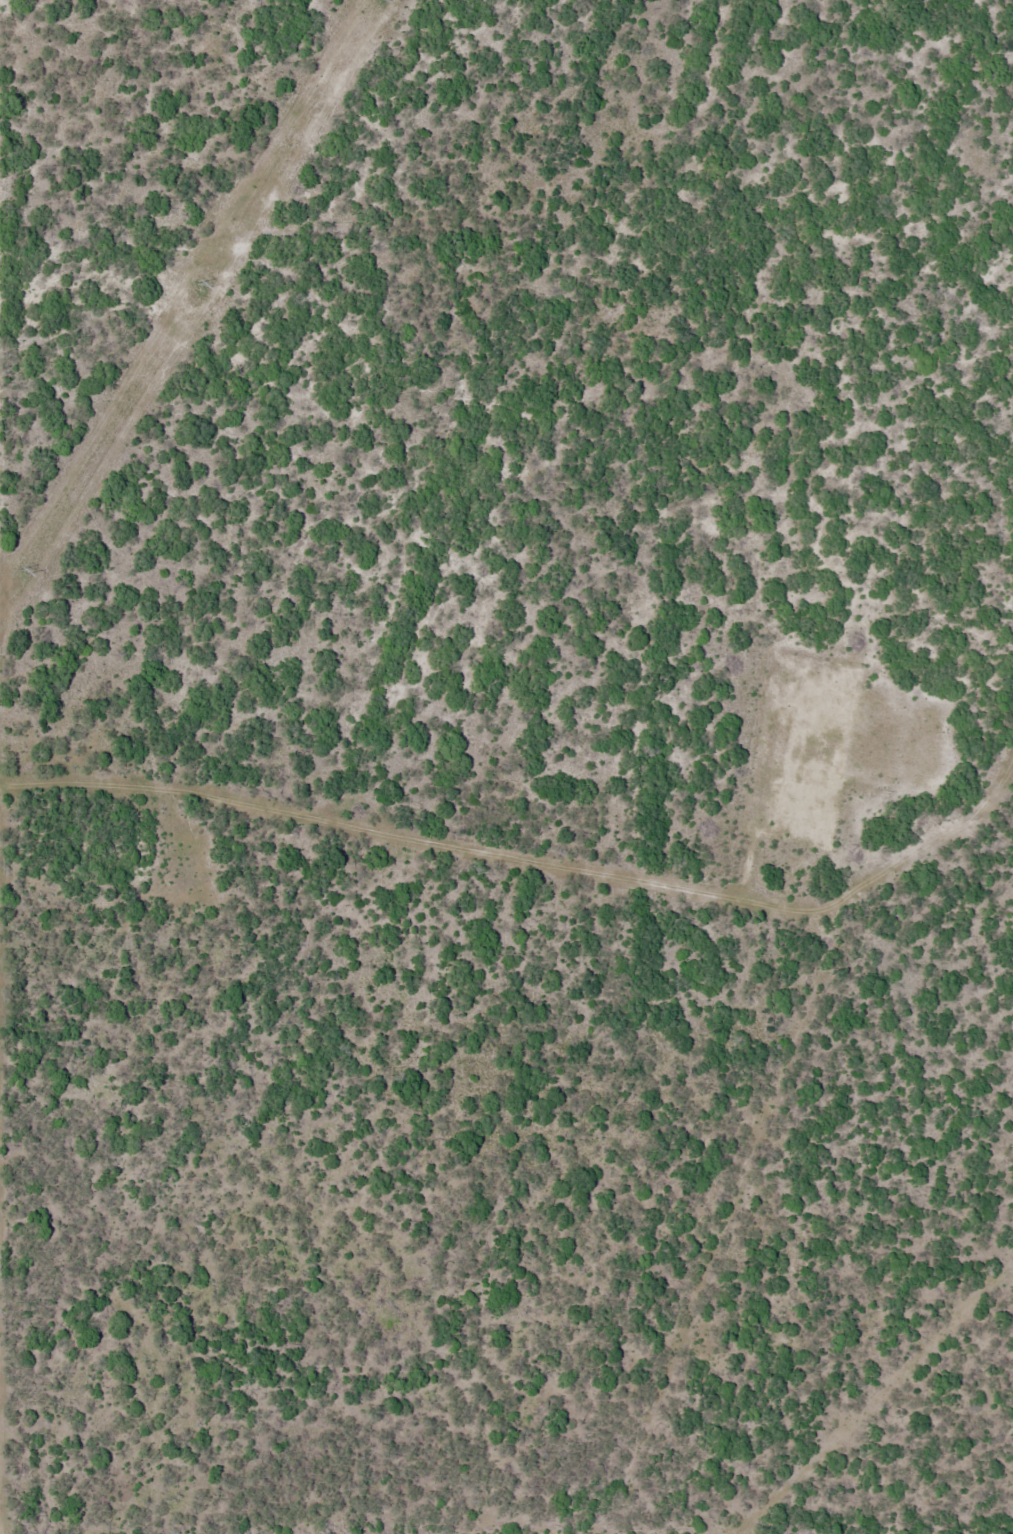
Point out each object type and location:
road: (244, 277)
power tower: (198, 285)
power tower: (20, 568)
road: (490, 846)

